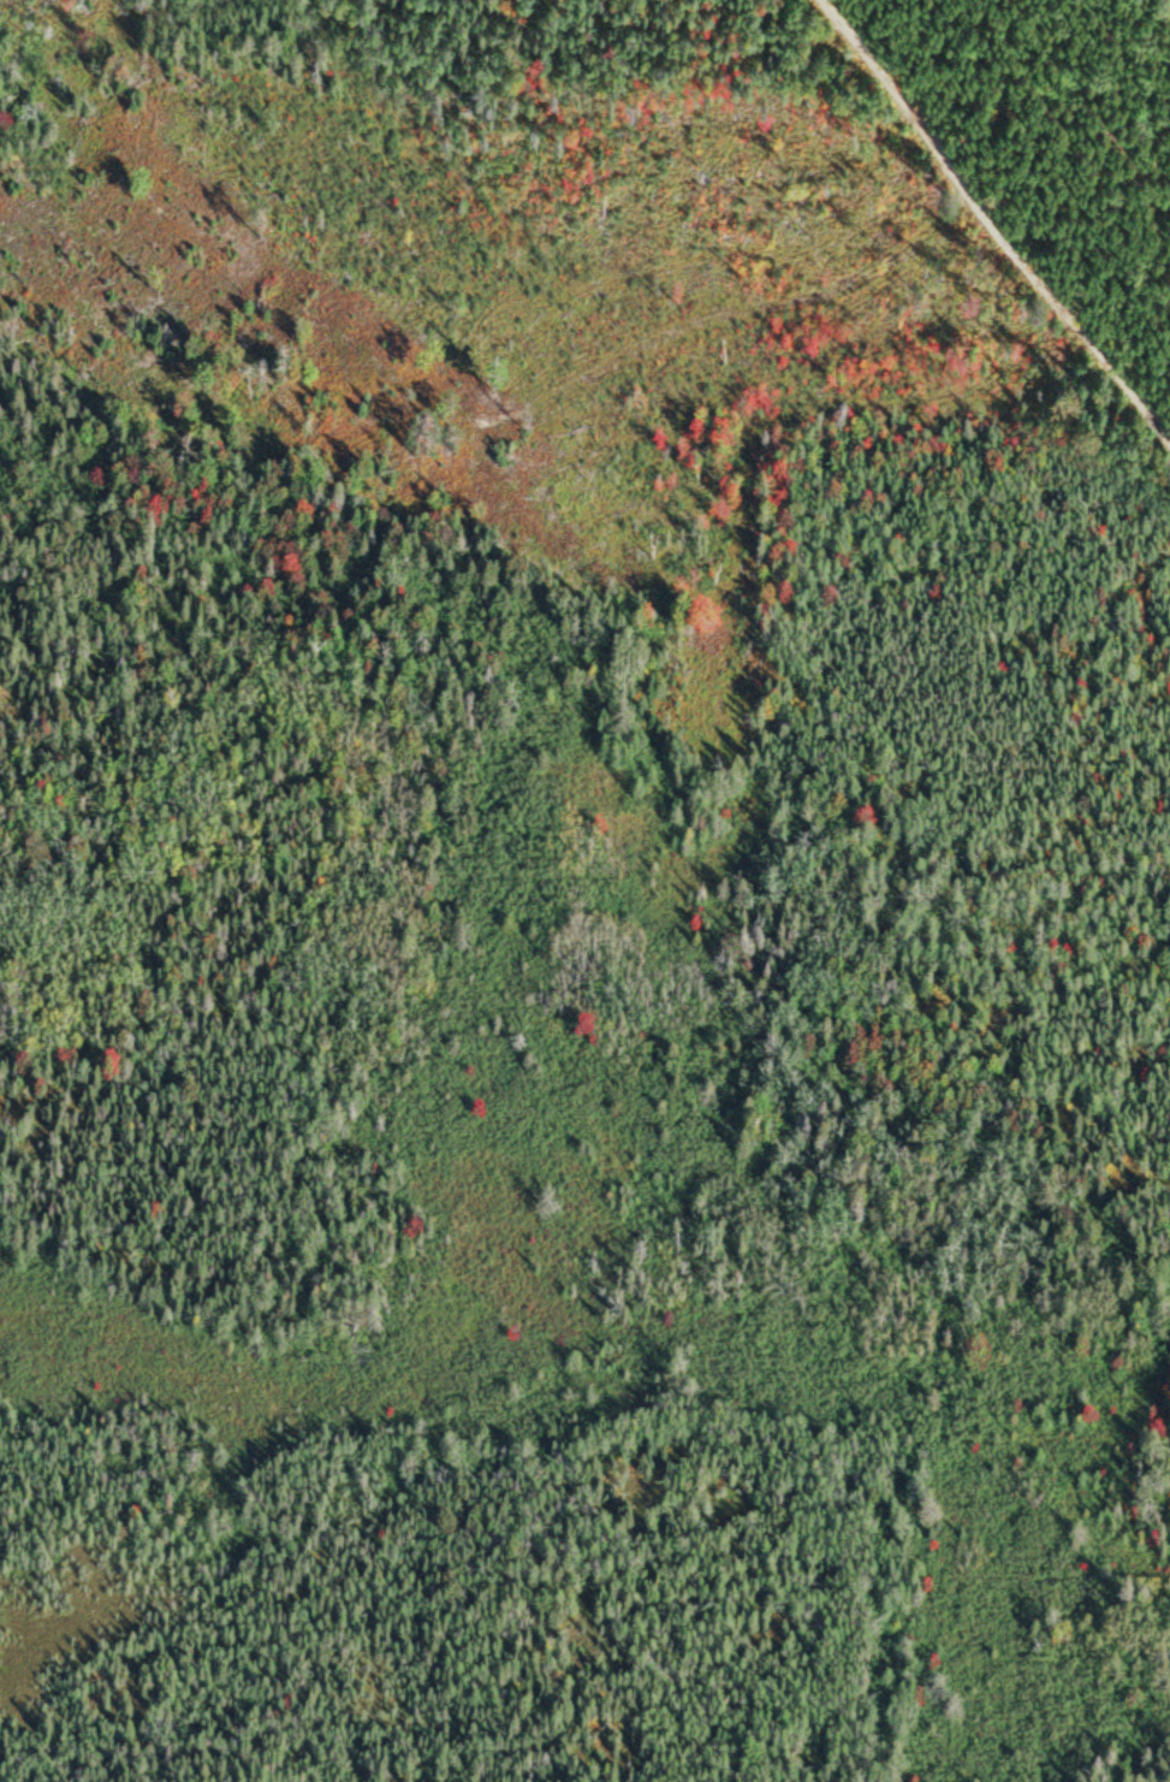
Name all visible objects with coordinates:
road: (1023, 194)

